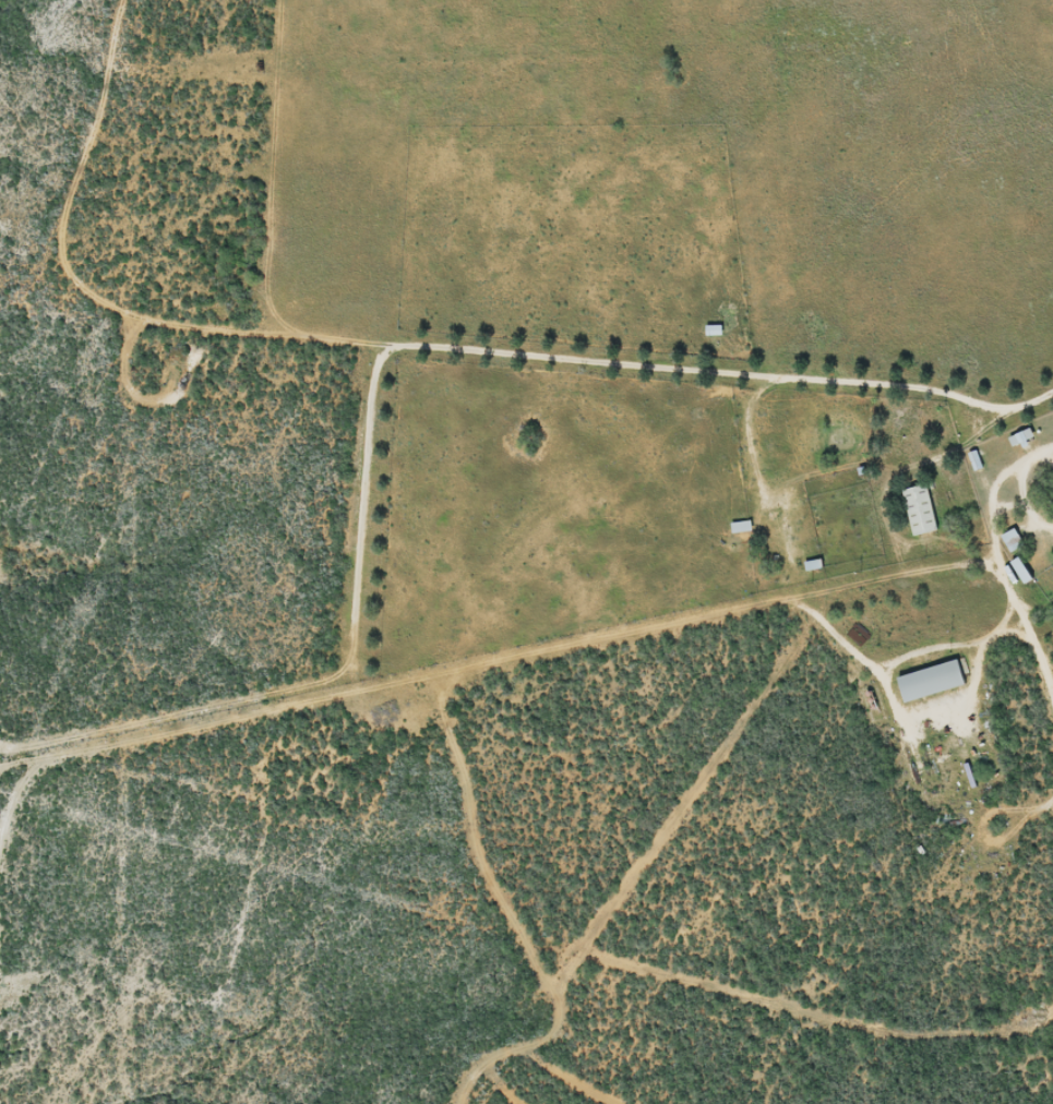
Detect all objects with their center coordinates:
building: (713, 329)
building: (919, 509)
road: (1002, 541)
building: (1008, 541)
building: (1017, 569)
building: (929, 681)

